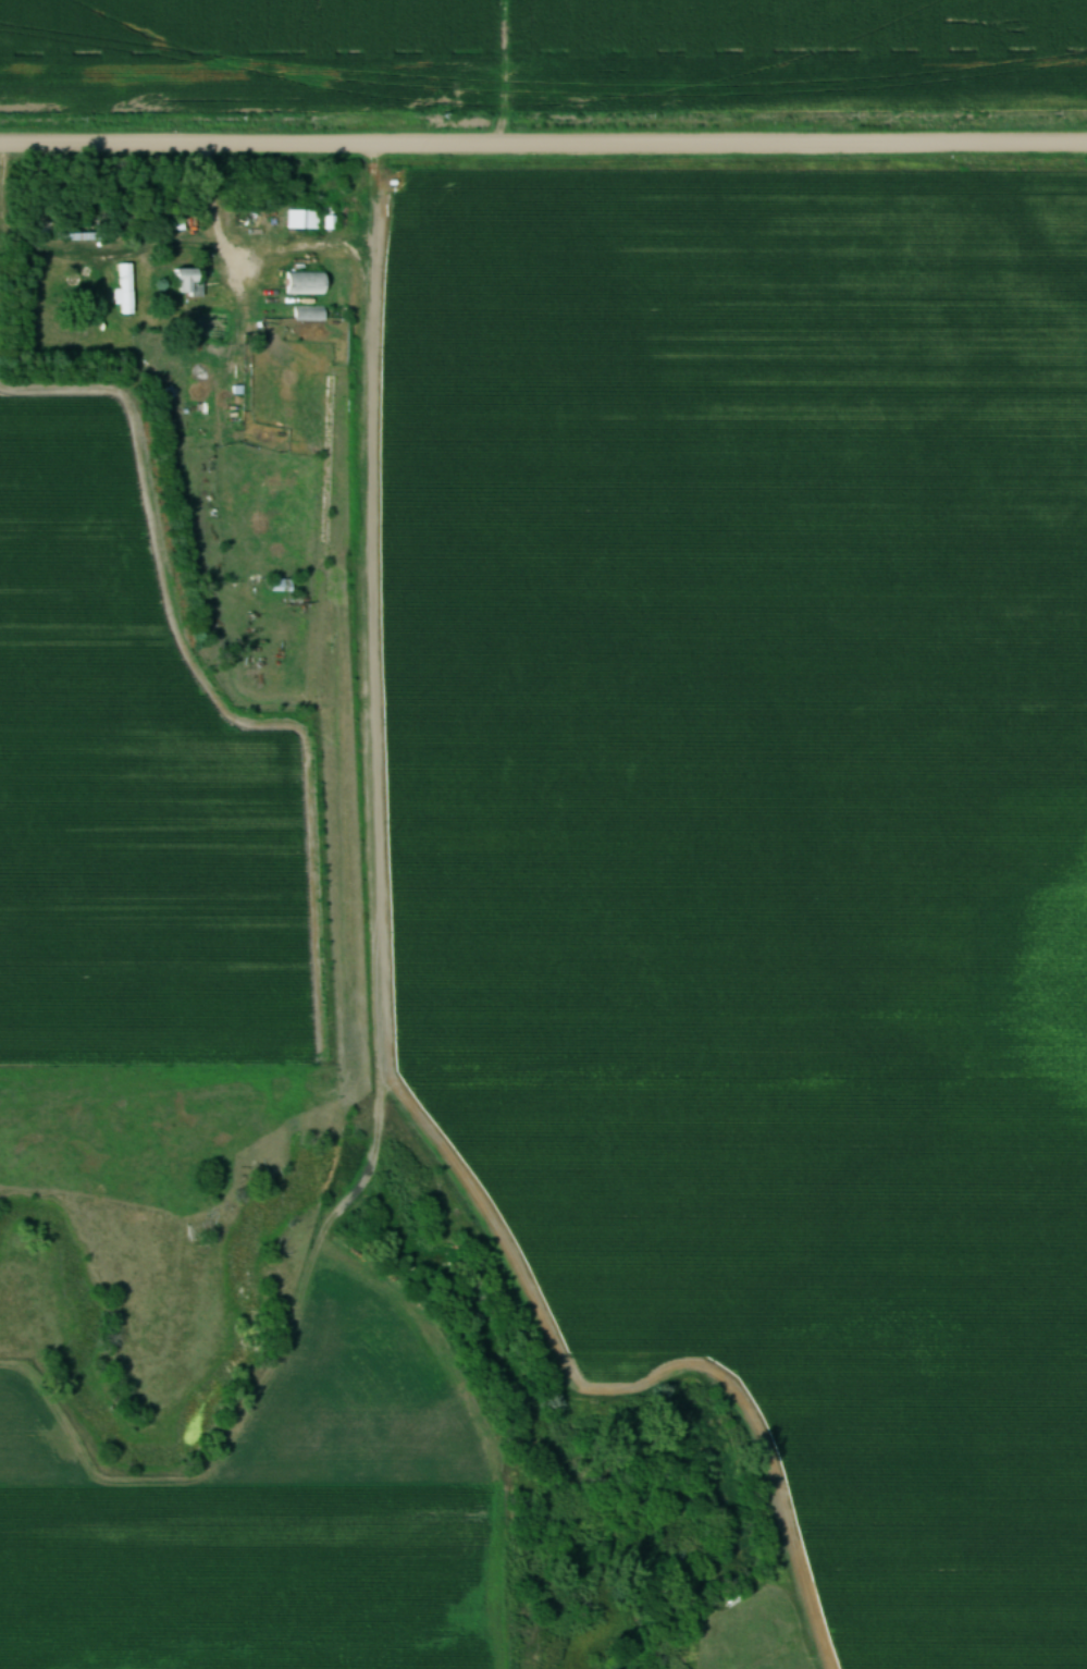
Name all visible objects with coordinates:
road: (543, 150)
building: (299, 221)
road: (118, 261)
building: (182, 284)
building: (301, 284)
building: (124, 291)
building: (307, 314)
building: (279, 587)

